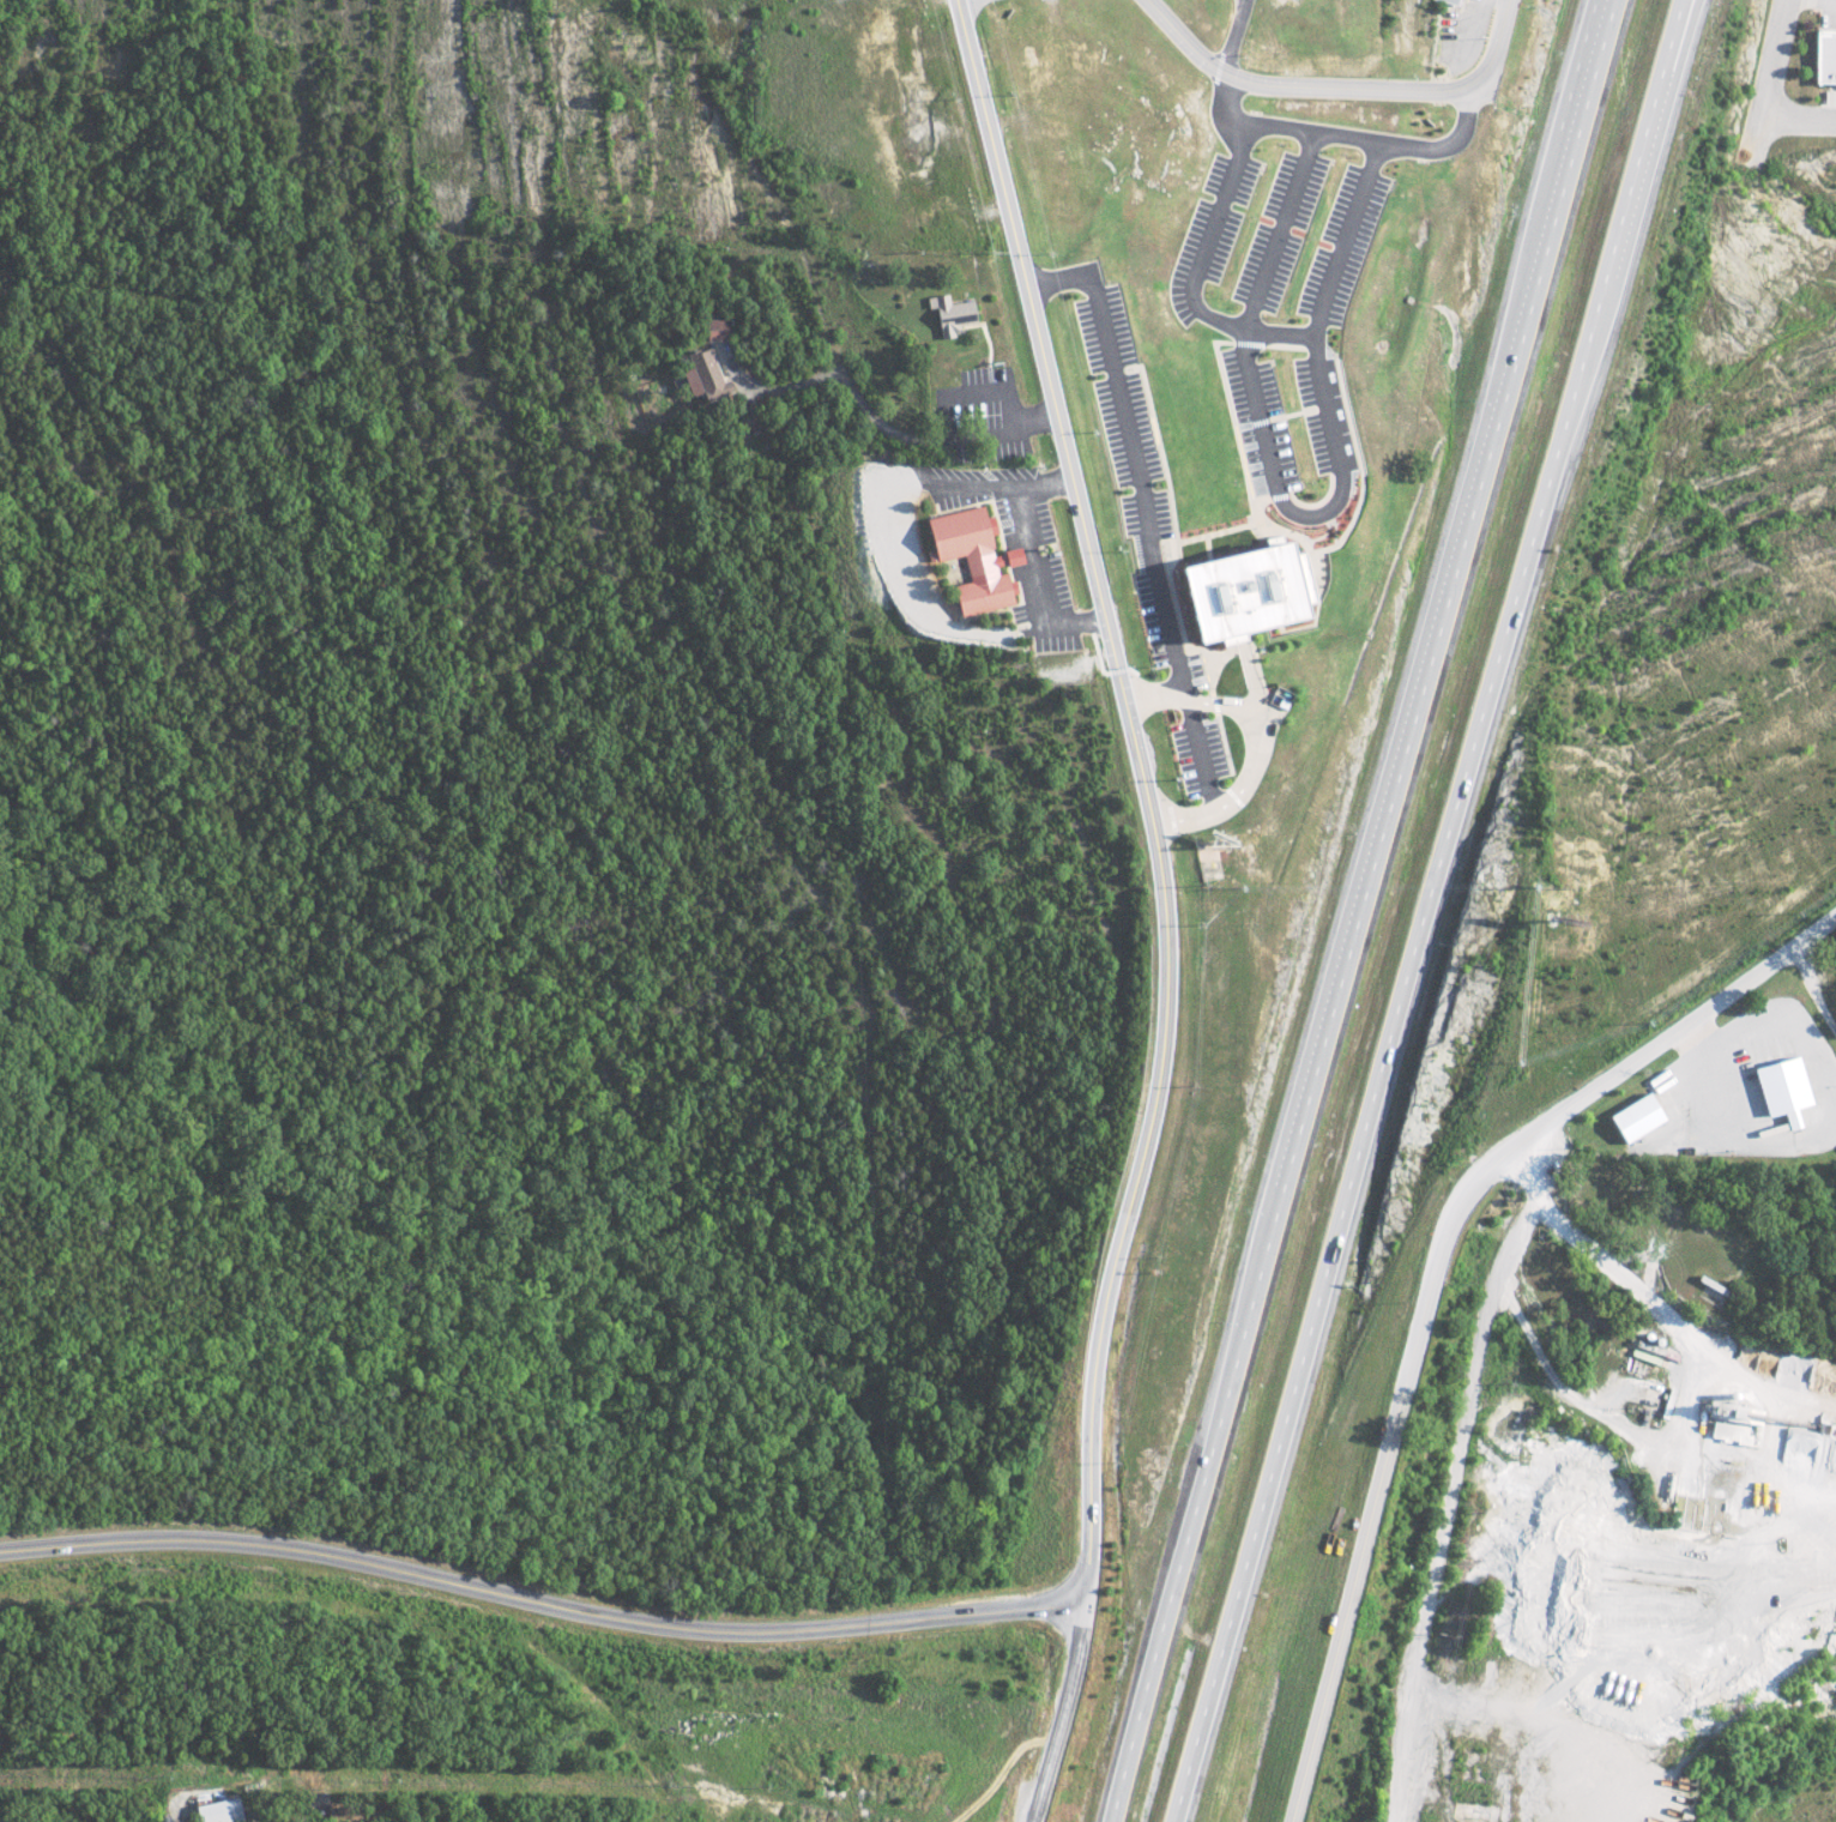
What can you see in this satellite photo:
building: (1450, 1)
road: (1825, 1)
park: (1303, 30)
building: (1823, 56)
road: (1769, 80)
road: (1343, 86)
road: (1799, 119)
road: (1312, 123)
road: (1463, 129)
road: (1226, 210)
road: (1286, 225)
road: (1354, 235)
road: (1073, 276)
building: (947, 314)
road: (1227, 316)
road: (1285, 328)
building: (708, 375)
road: (846, 381)
road: (1337, 405)
road: (1266, 406)
road: (943, 426)
road: (1142, 471)
road: (1322, 512)
building: (970, 559)
road: (1033, 563)
building: (1264, 592)
road: (1262, 676)
road: (1171, 687)
road: (1198, 747)
road: (1263, 749)
road: (1146, 796)
road: (1355, 910)
road: (1433, 912)
road: (1813, 989)
building: (1781, 1088)
building: (1633, 1116)
road: (1503, 1146)
road: (1466, 1440)
road: (538, 1598)
road: (1325, 1669)
road: (1063, 1714)
building: (219, 1810)

